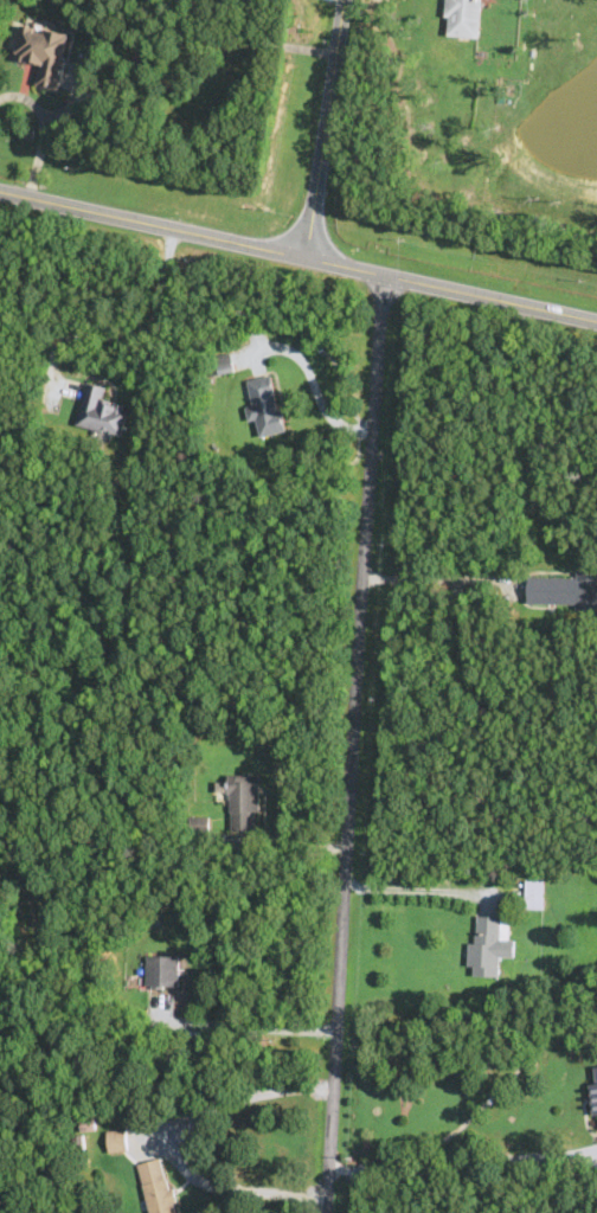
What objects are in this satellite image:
building: (464, 18)
building: (44, 52)
road: (325, 128)
road: (44, 130)
road: (298, 253)
road: (129, 332)
building: (225, 364)
road: (312, 378)
building: (265, 405)
building: (102, 411)
road: (531, 509)
building: (563, 591)
road: (358, 743)
building: (245, 802)
building: (200, 824)
road: (296, 837)
road: (419, 890)
building: (534, 894)
building: (490, 946)
building: (163, 973)
road: (251, 1027)
building: (595, 1087)
building: (117, 1141)
road: (180, 1143)
road: (467, 1166)
building: (158, 1186)

